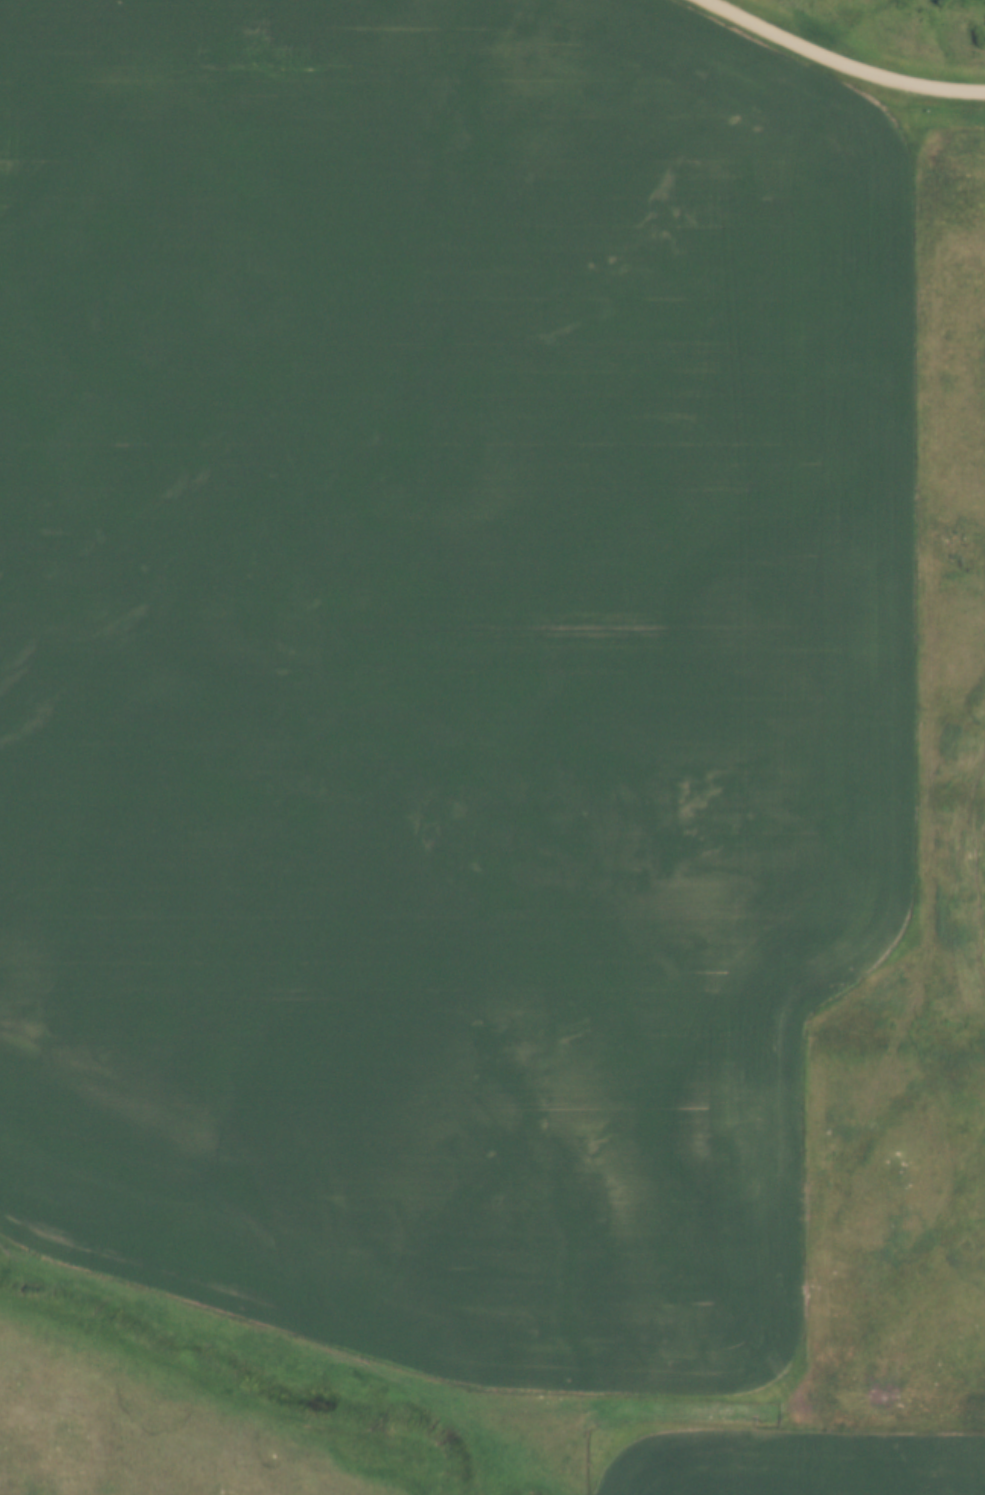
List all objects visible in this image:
road: (847, 62)

